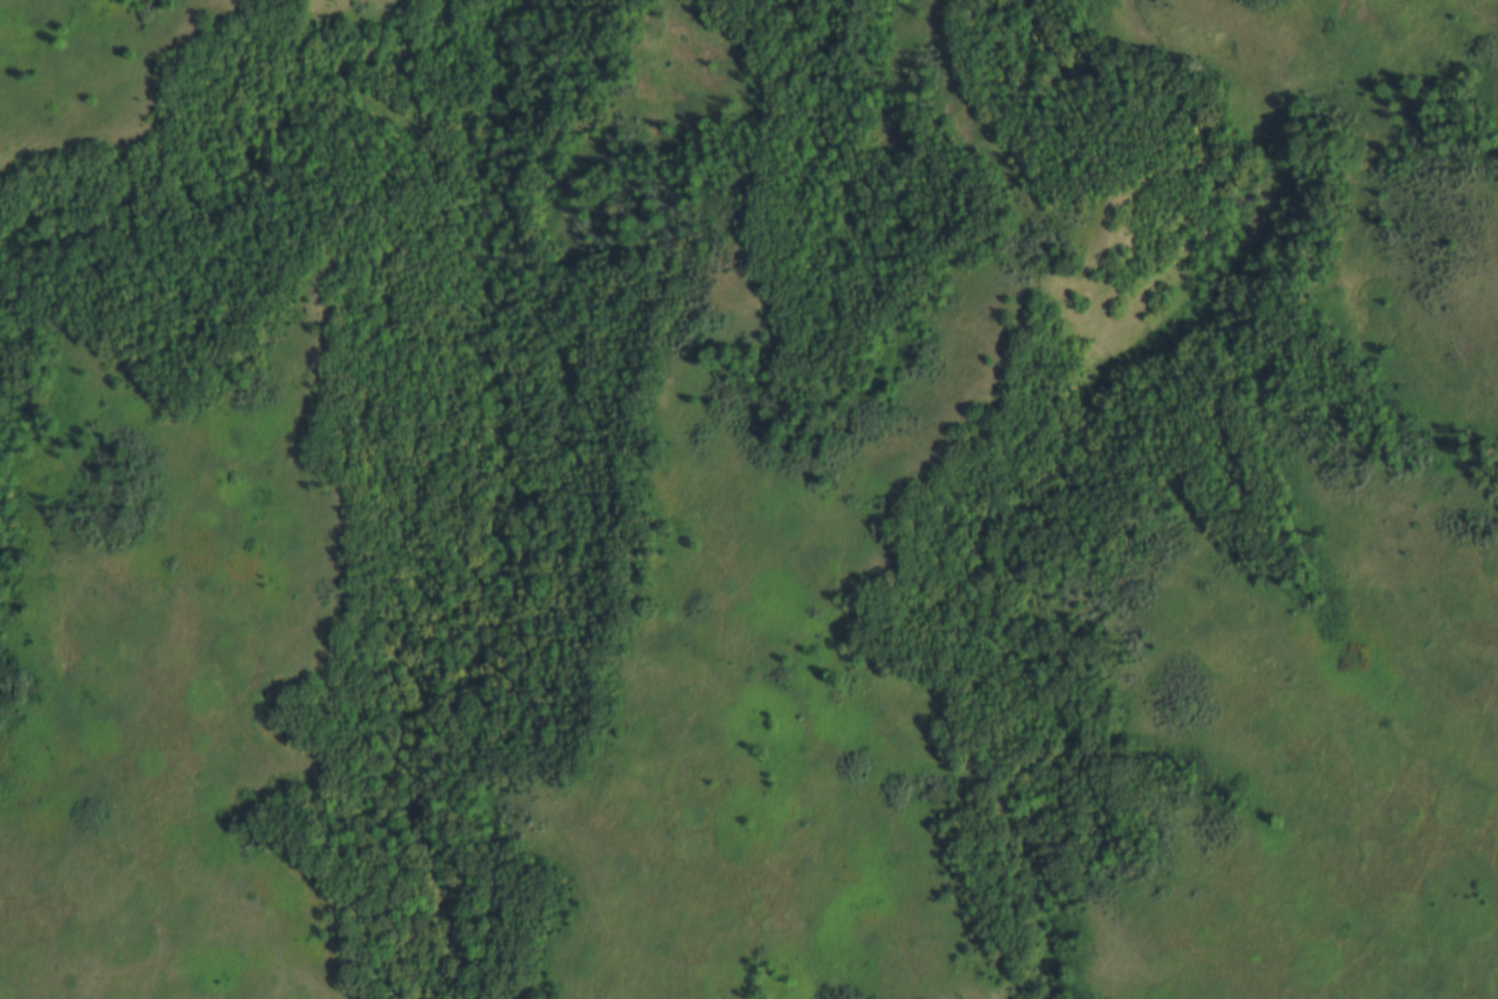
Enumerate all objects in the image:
road: (1474, 11)

